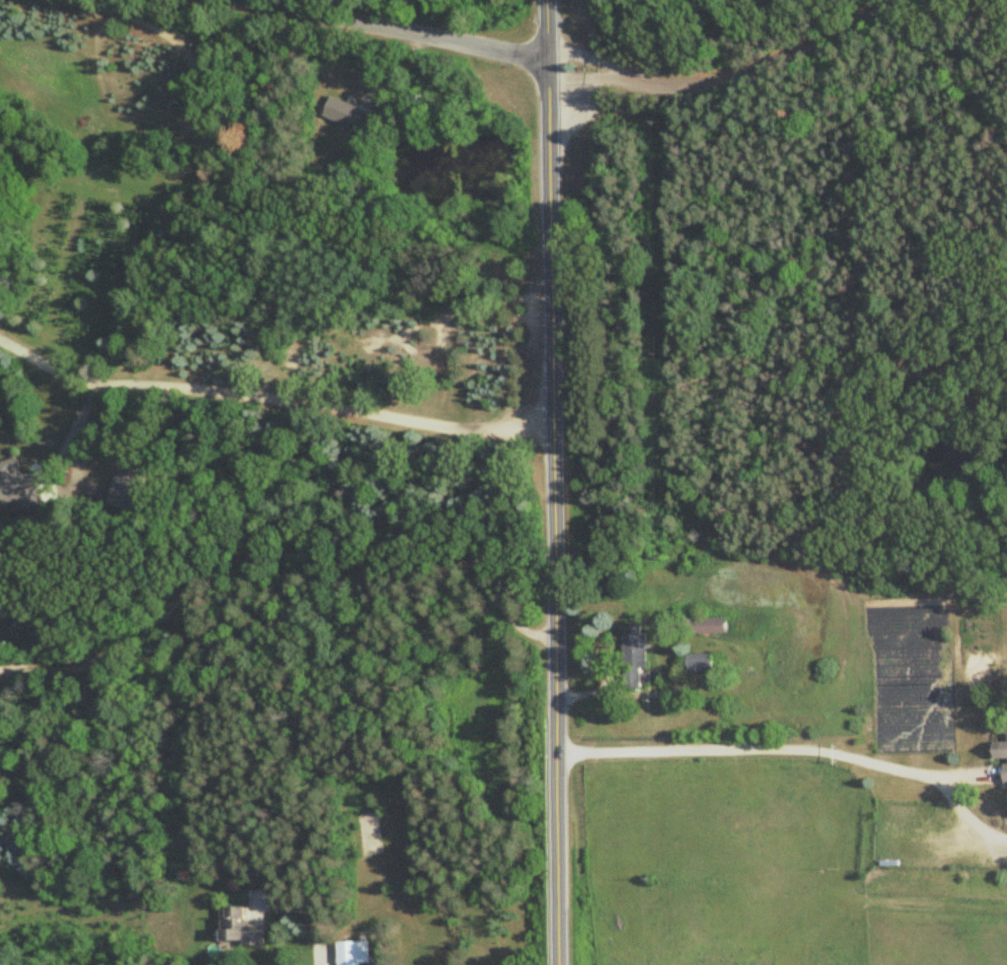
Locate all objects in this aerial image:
road: (396, 32)
road: (733, 77)
building: (340, 111)
road: (272, 398)
road: (554, 482)
road: (282, 568)
building: (705, 626)
building: (747, 626)
building: (636, 658)
building: (699, 663)
road: (773, 747)
building: (1002, 752)
road: (310, 919)
building: (241, 928)
building: (353, 952)

